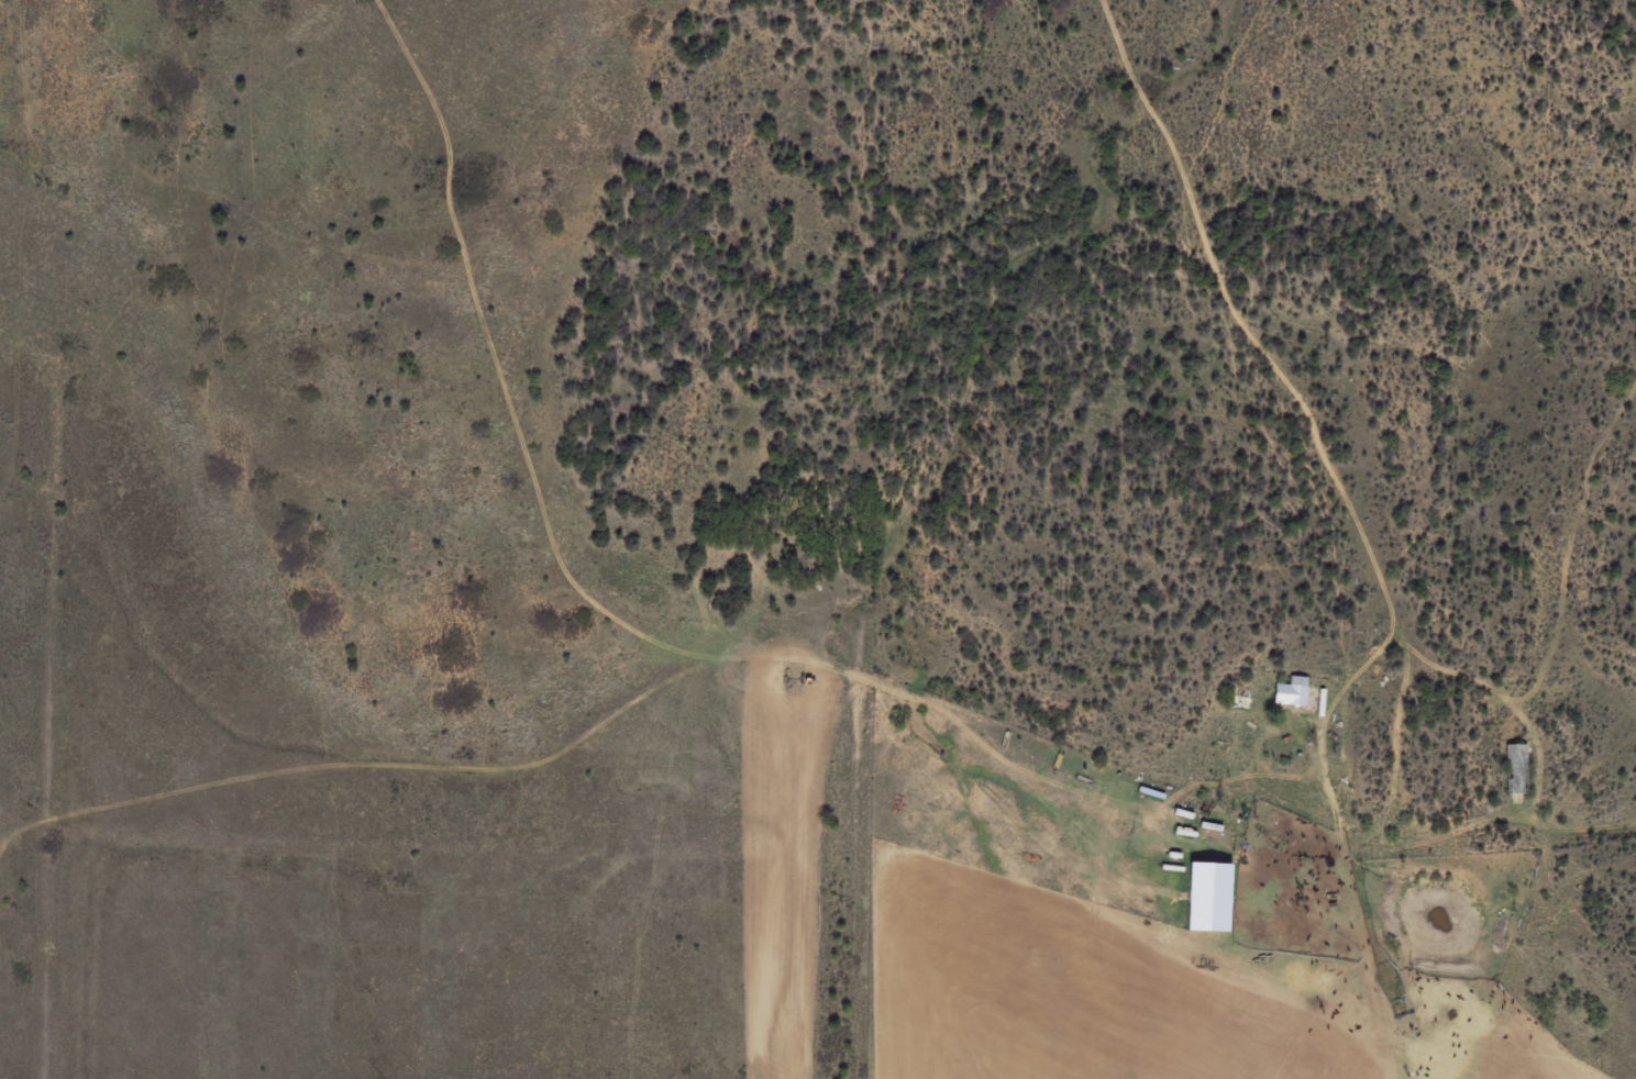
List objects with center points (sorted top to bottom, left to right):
building: (561, 508)
road: (1363, 514)
road: (592, 567)
building: (1292, 693)
building: (1515, 770)

